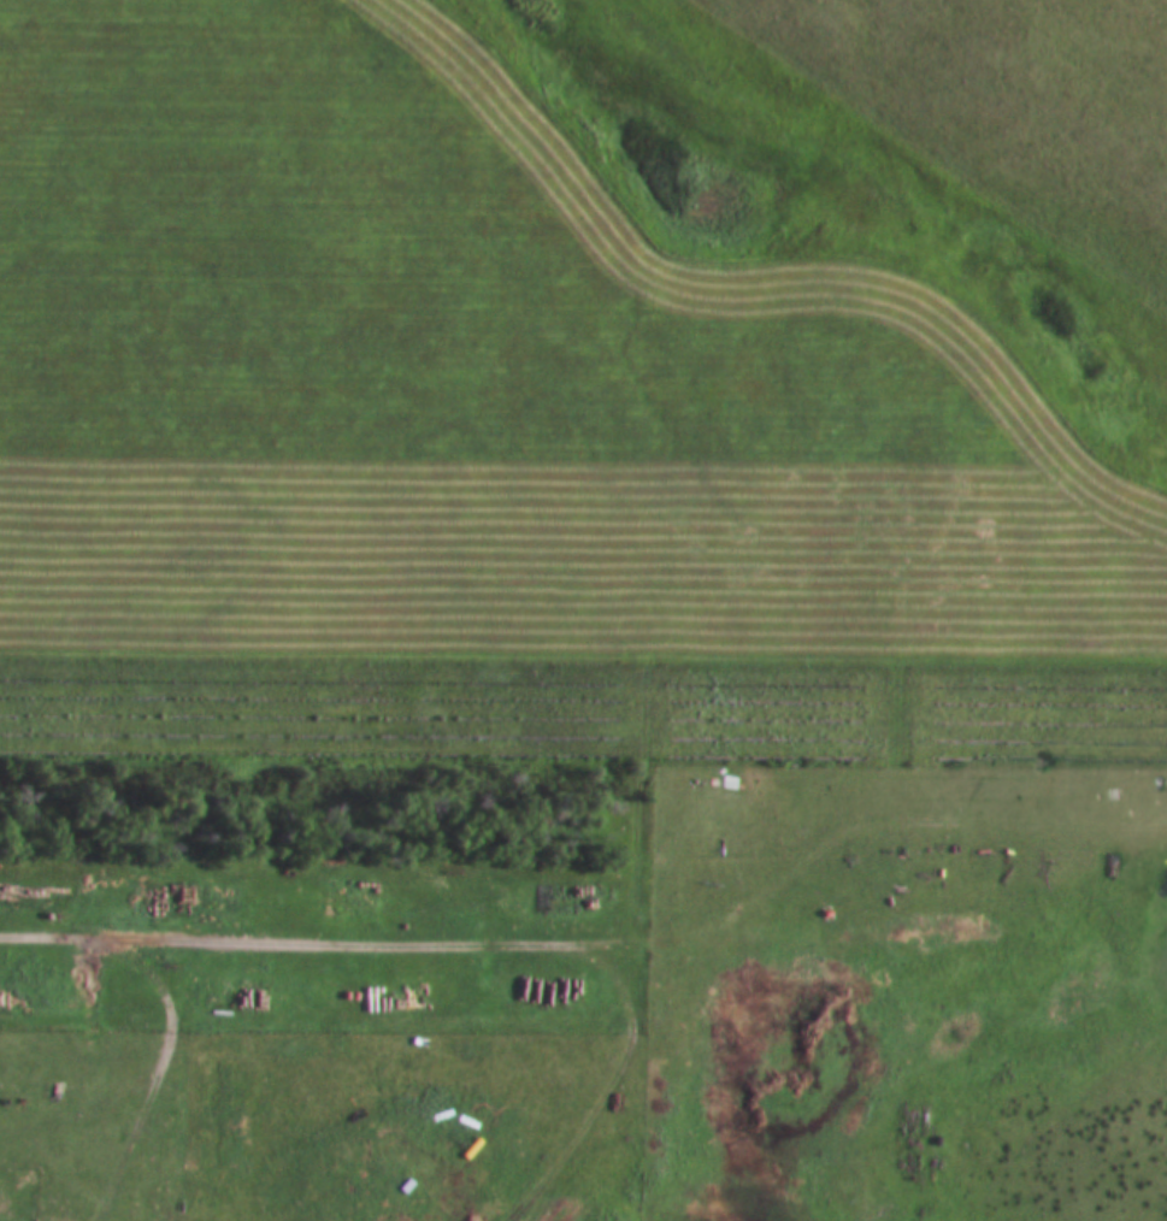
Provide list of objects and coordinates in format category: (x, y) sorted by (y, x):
building: (332, 910)
road: (340, 944)

